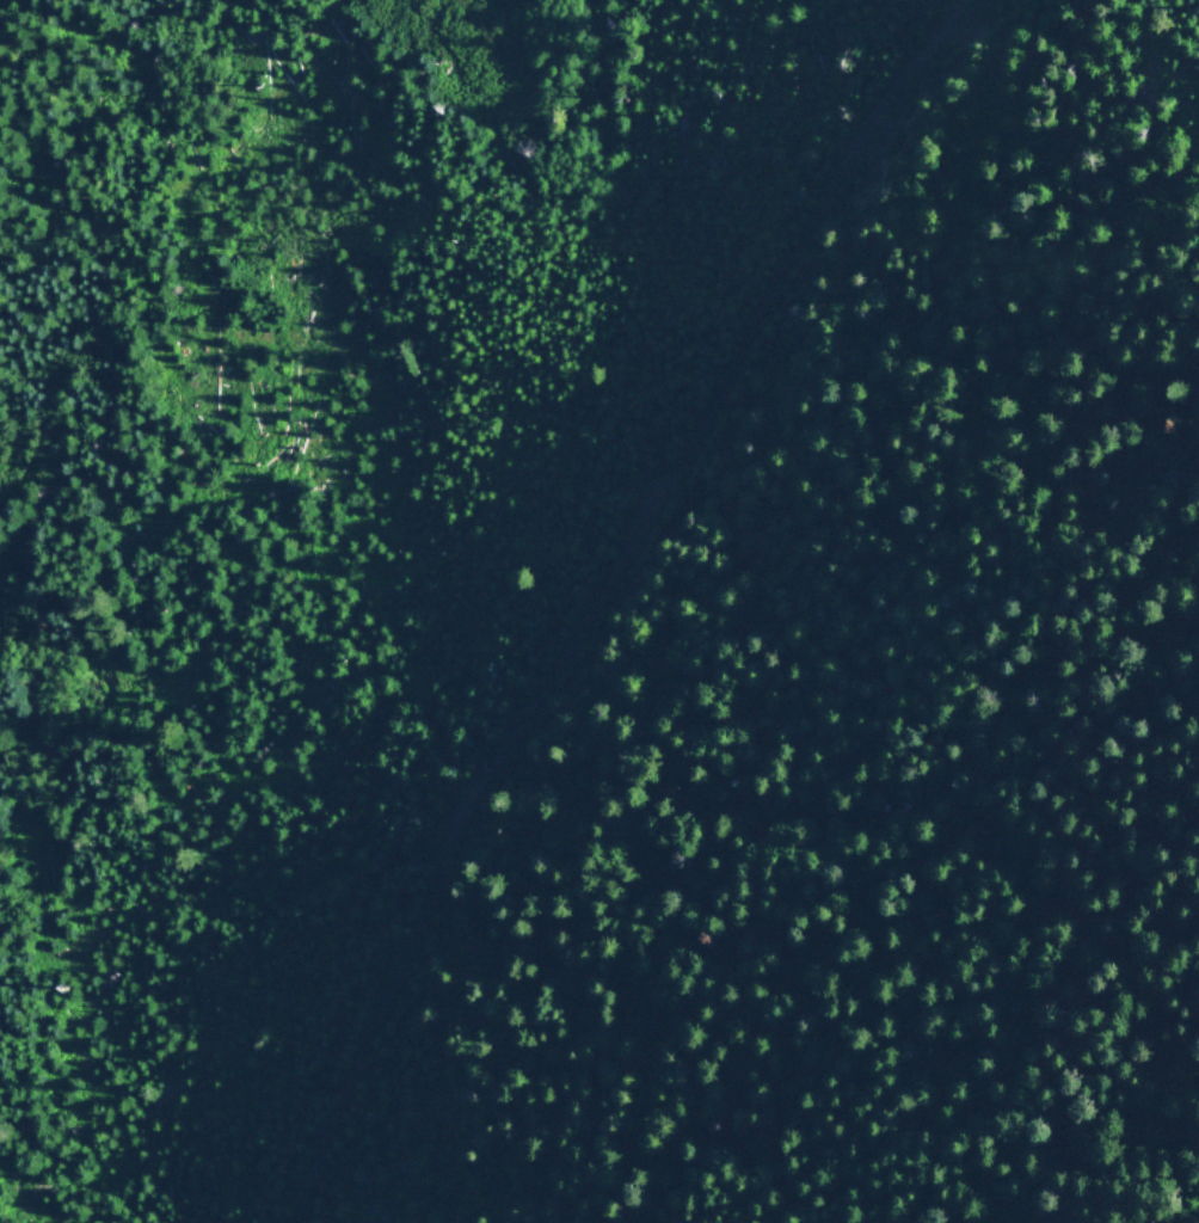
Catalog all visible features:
road: (552, 574)

